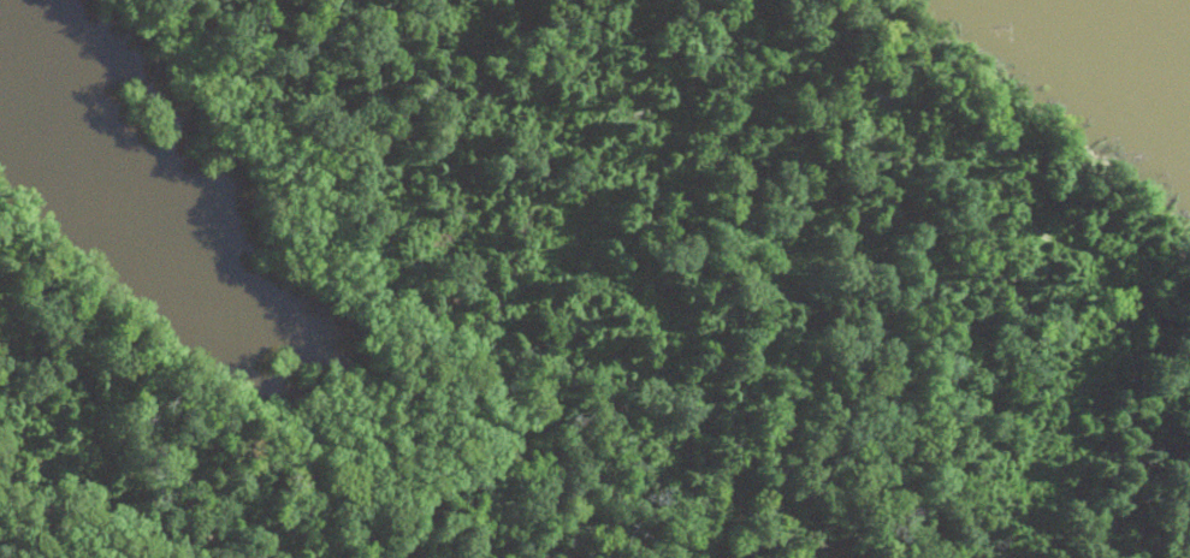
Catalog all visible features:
river: (1159, 23)

